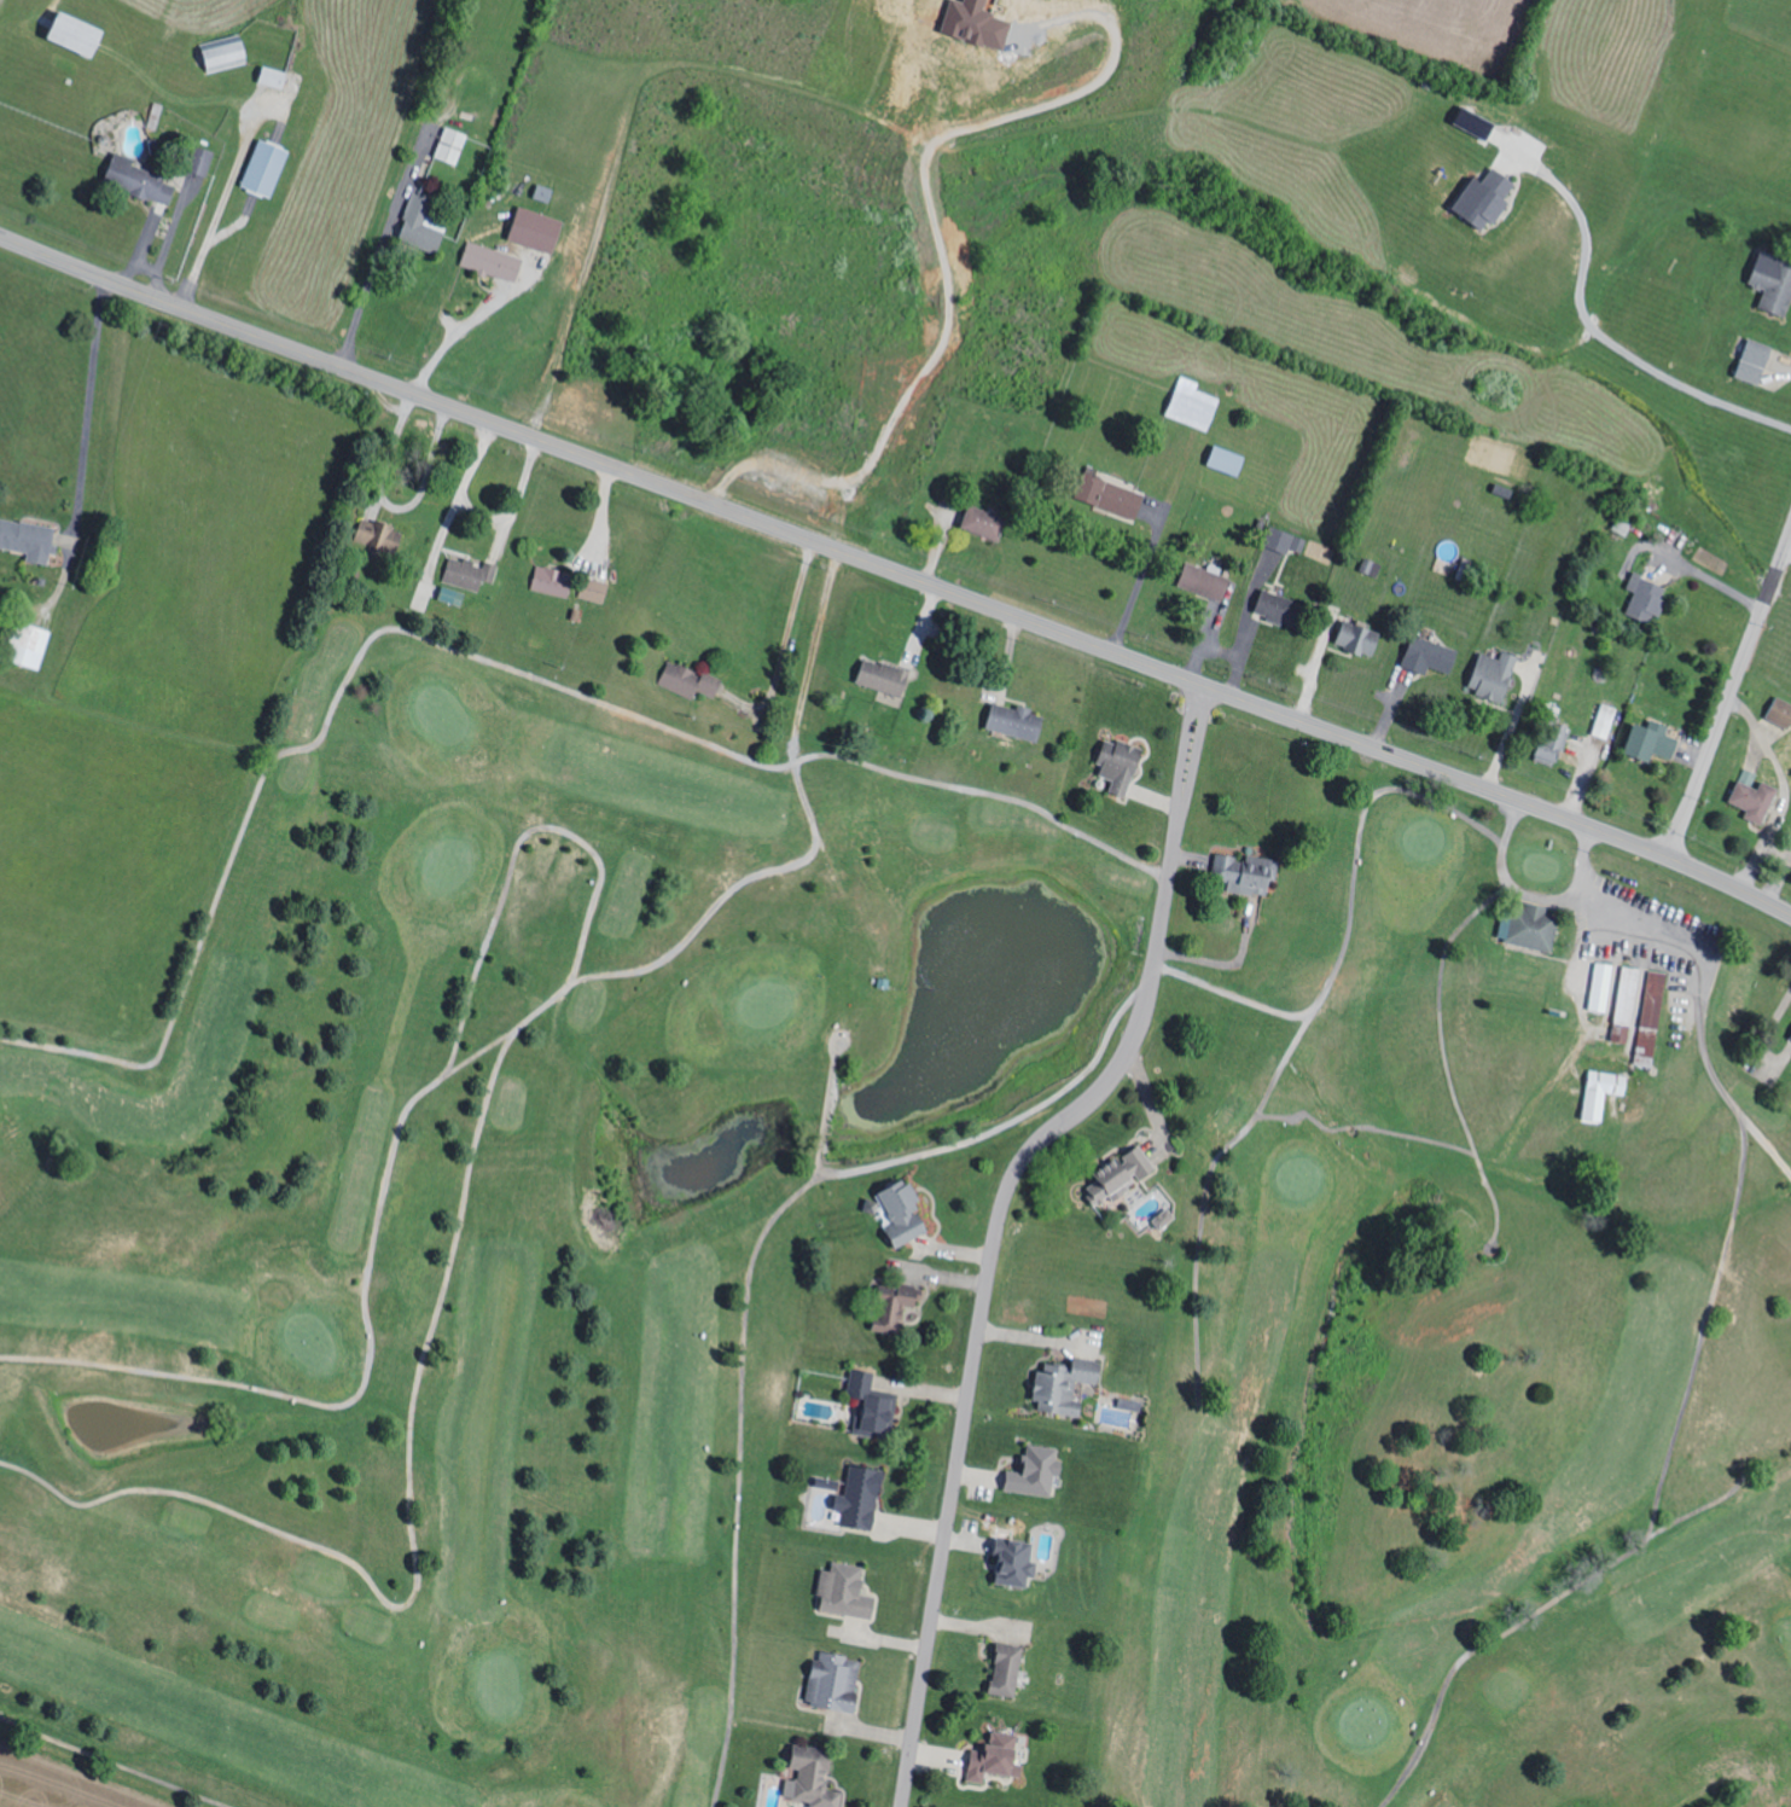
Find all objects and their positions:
building: (981, 24)
building: (83, 35)
building: (232, 56)
building: (277, 77)
building: (1461, 121)
building: (207, 162)
building: (268, 167)
building: (143, 180)
building: (1476, 201)
building: (429, 211)
building: (541, 231)
building: (495, 262)
building: (1768, 285)
building: (1748, 361)
building: (1194, 405)
building: (1231, 459)
building: (1116, 496)
building: (987, 522)
building: (30, 539)
building: (1291, 540)
building: (1467, 568)
road: (896, 571)
building: (471, 573)
building: (1209, 580)
building: (554, 581)
building: (598, 591)
building: (454, 595)
building: (1650, 597)
building: (1284, 605)
building: (1362, 635)
building: (1432, 656)
building: (1498, 674)
building: (886, 676)
building: (690, 680)
road: (1731, 696)
building: (1781, 710)
building: (1019, 720)
building: (1606, 721)
building: (1655, 740)
building: (1549, 754)
building: (1122, 763)
building: (1756, 796)
building: (1249, 872)
building: (1531, 925)
building: (1603, 987)
building: (1628, 1005)
building: (1652, 1017)
road: (1117, 1059)
building: (1605, 1092)
building: (1121, 1176)
building: (907, 1213)
park: (414, 1219)
road: (998, 1219)
building: (1167, 1219)
building: (895, 1309)
building: (1070, 1384)
building: (873, 1405)
building: (1039, 1471)
building: (835, 1484)
building: (863, 1497)
building: (1019, 1561)
building: (849, 1591)
building: (1011, 1669)
building: (838, 1681)
building: (999, 1757)
building: (816, 1778)

